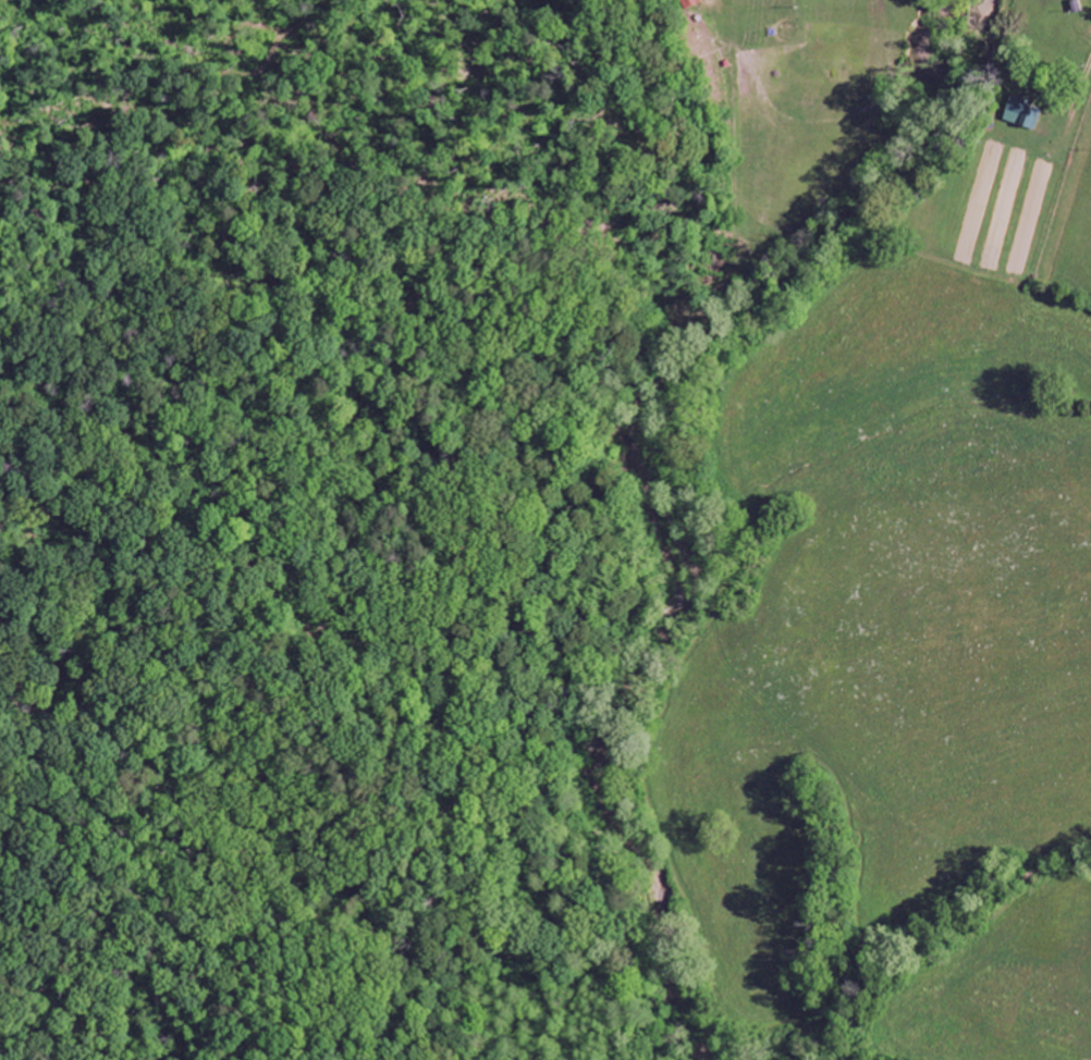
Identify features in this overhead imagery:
building: (1021, 114)

